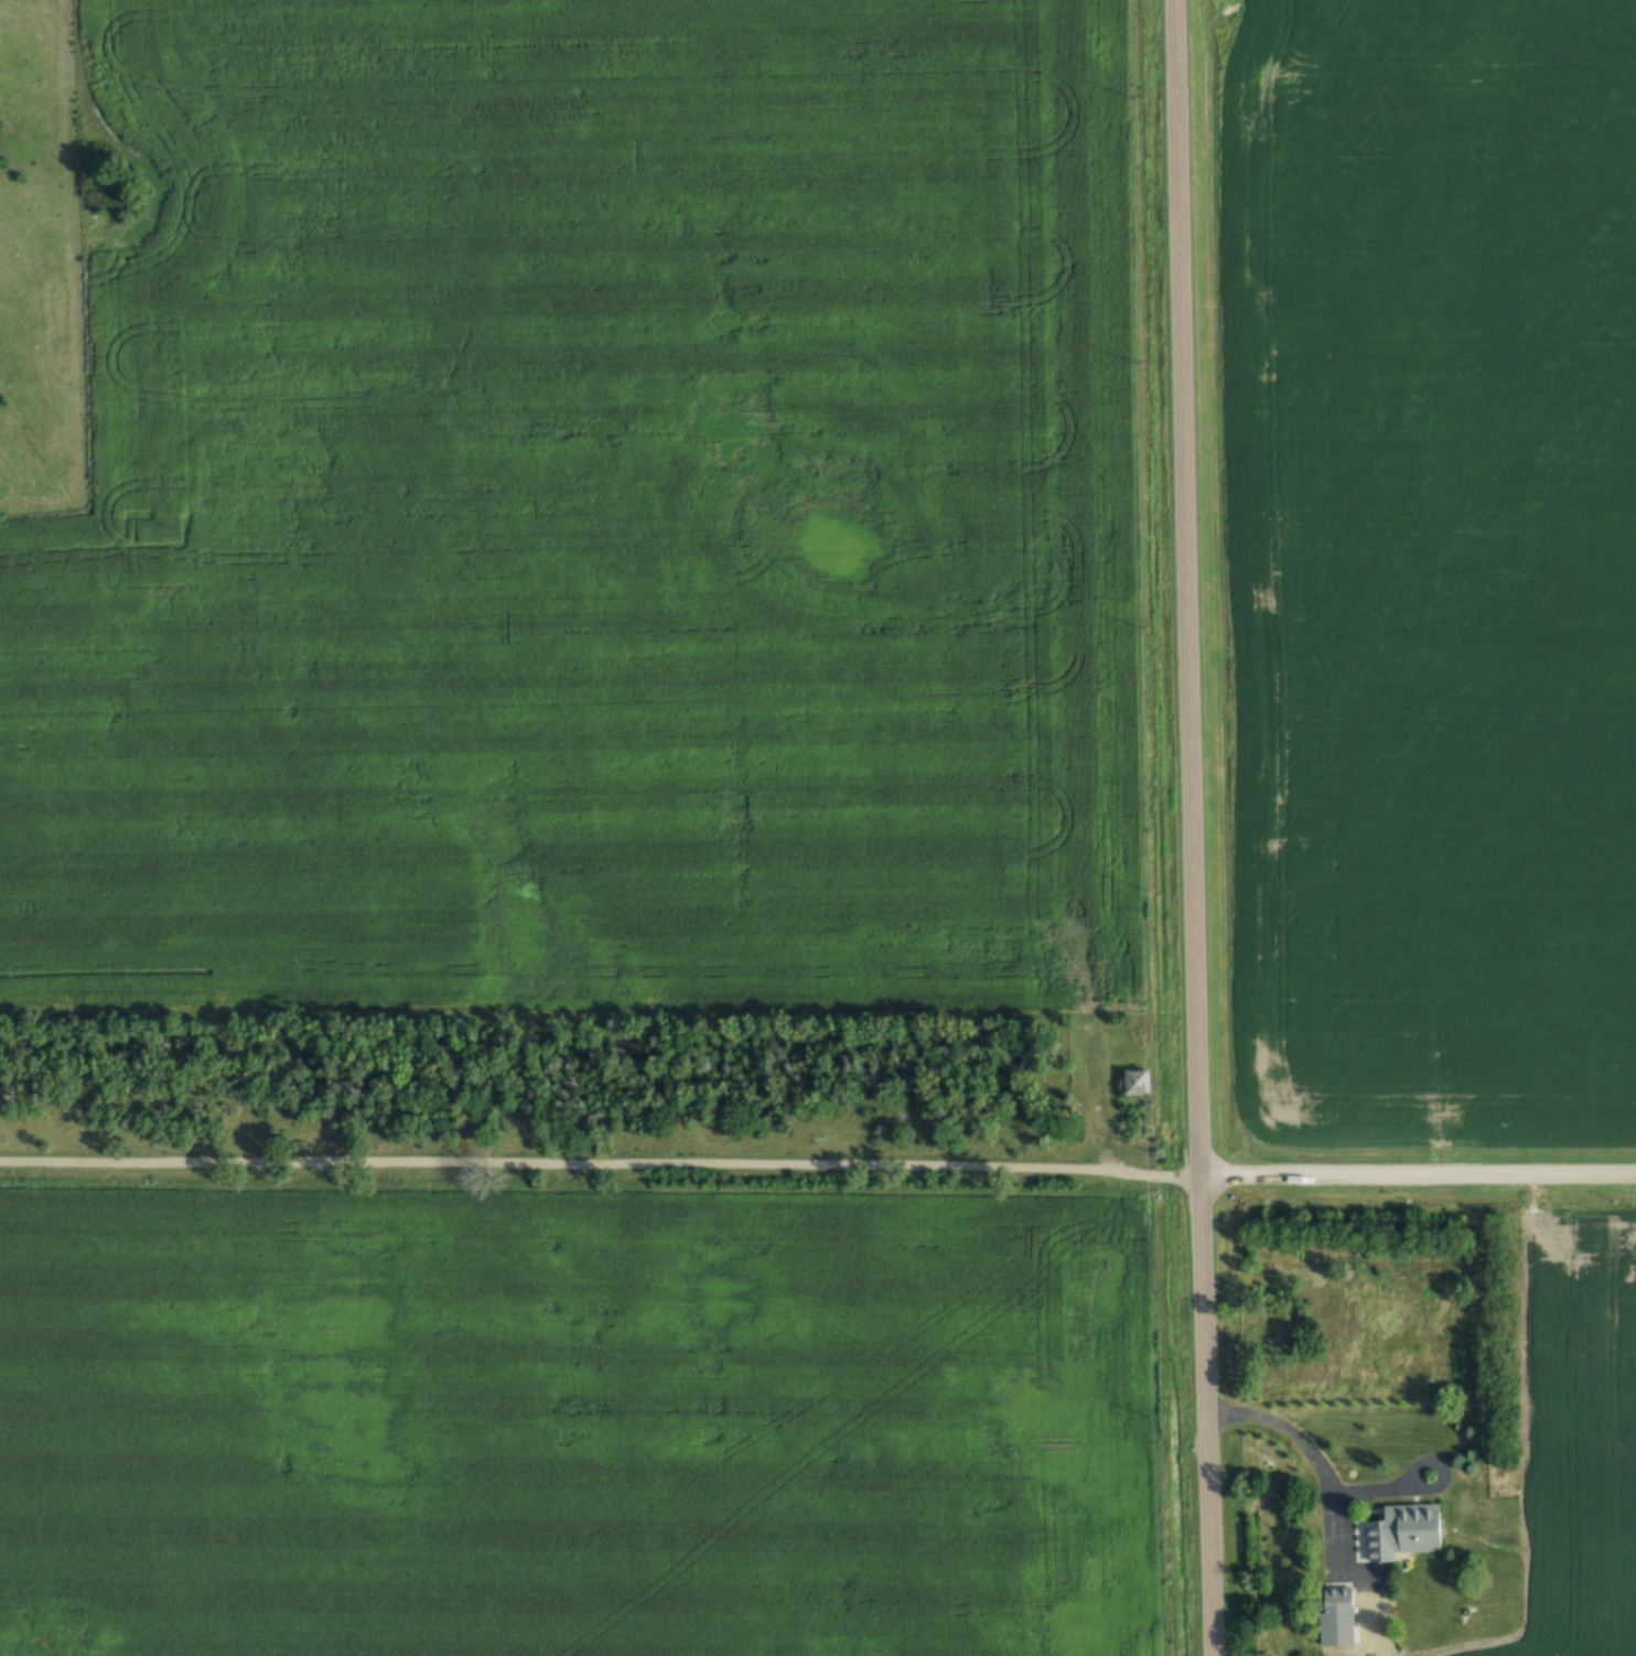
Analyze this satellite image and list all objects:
crop: (1430, 567)
road: (1196, 828)
road: (601, 1163)
road: (1420, 1171)
road: (1303, 1433)
building: (1404, 1530)
building: (1332, 1616)

